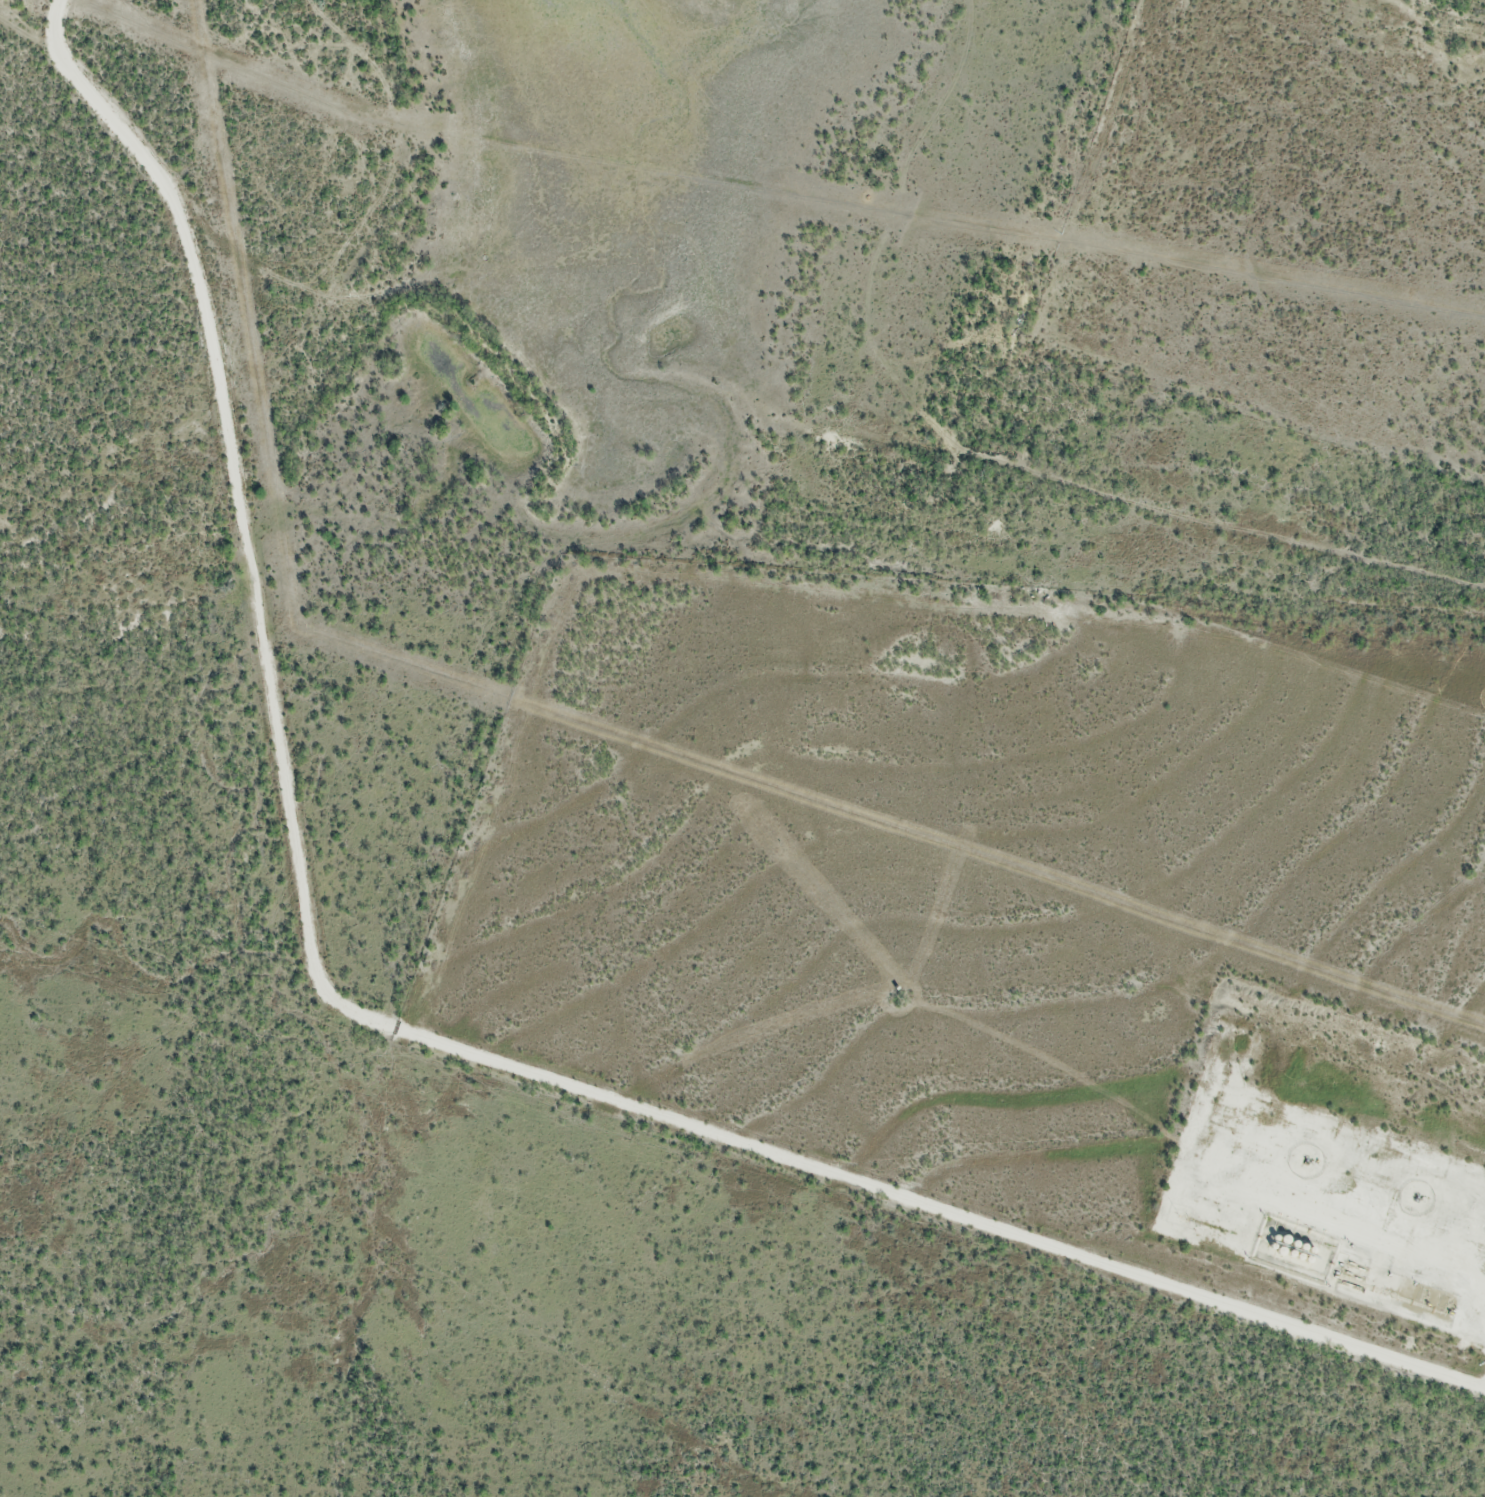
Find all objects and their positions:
road: (657, 460)

